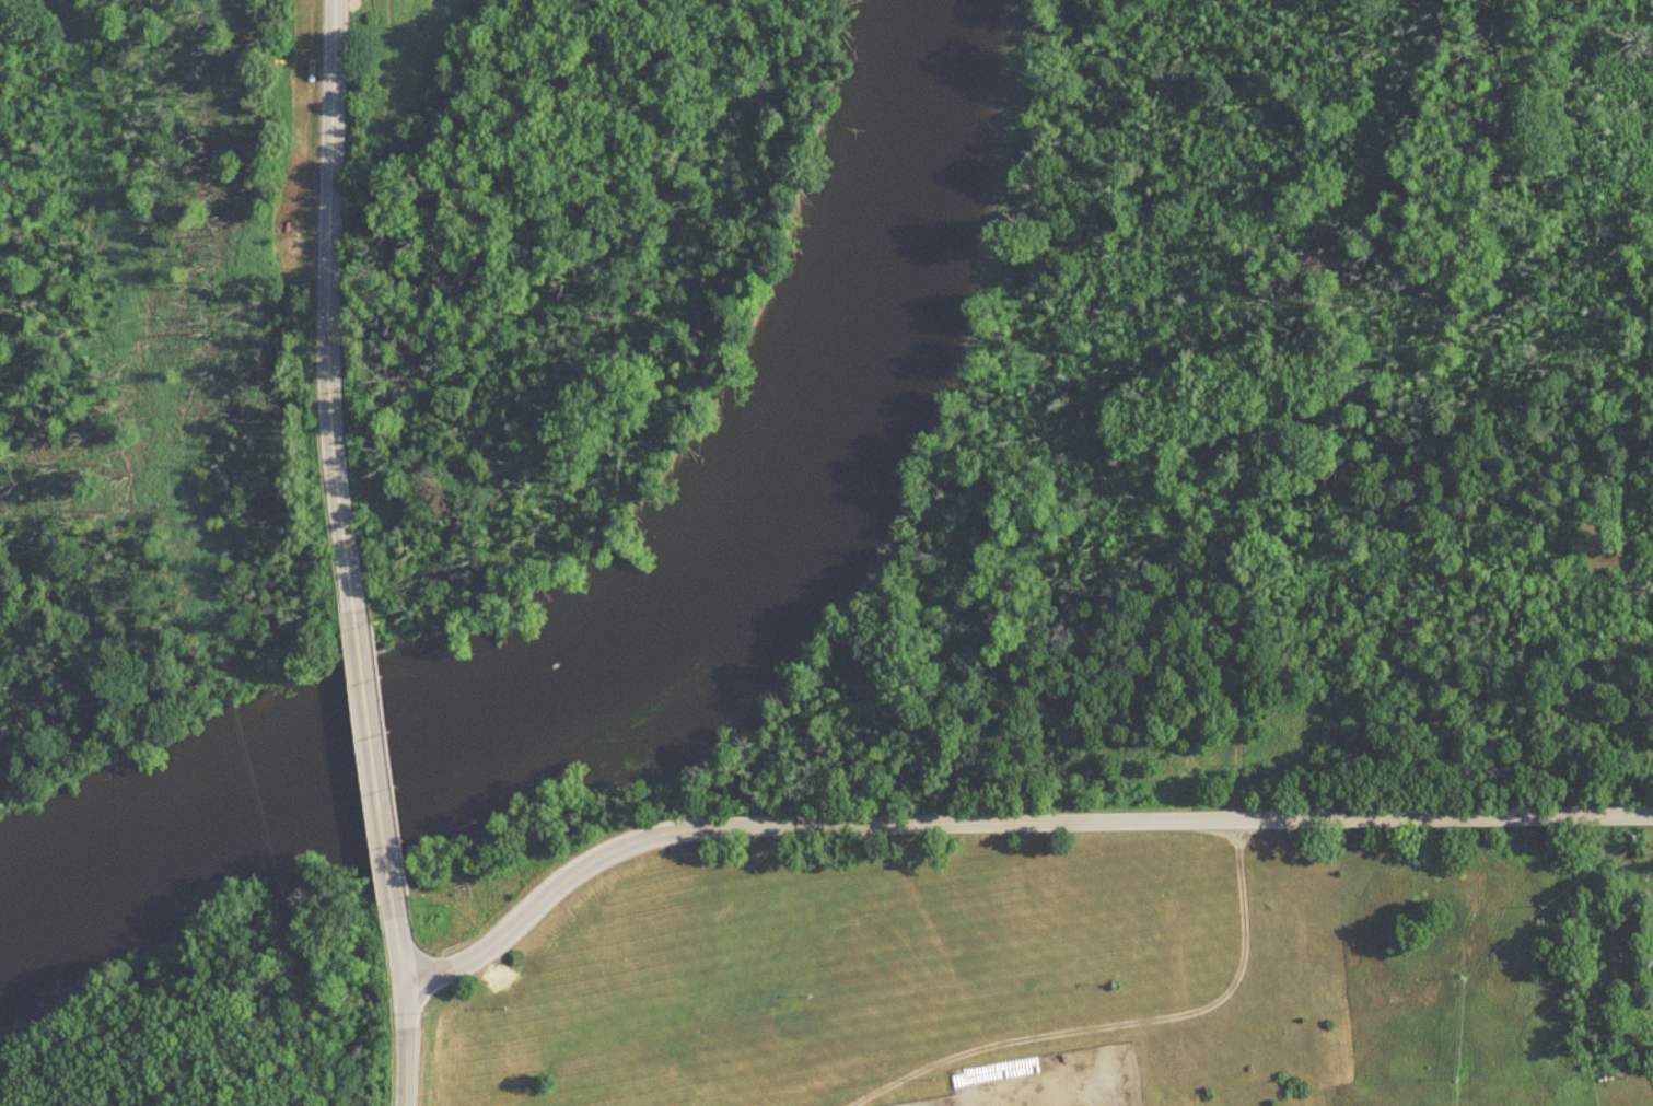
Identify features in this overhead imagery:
road: (331, 106)
road: (328, 411)
road: (296, 564)
river: (666, 650)
road: (1231, 683)
road: (375, 758)
road: (1441, 818)
road: (794, 826)
road: (401, 943)
road: (1190, 1011)
road: (406, 1044)
road: (913, 1070)
road: (1022, 1094)

